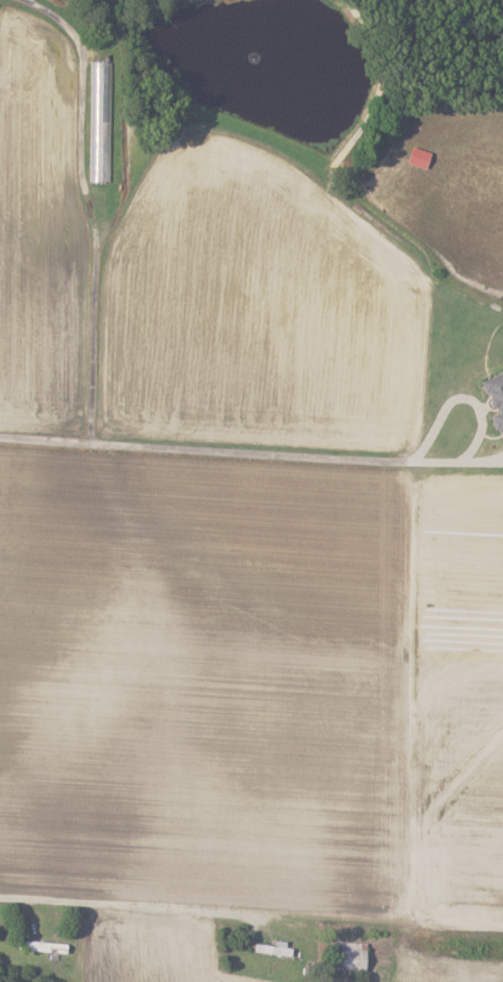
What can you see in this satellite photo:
building: (99, 122)
road: (92, 206)
building: (497, 397)
road: (46, 438)
road: (279, 453)
road: (131, 903)
building: (43, 946)
building: (273, 949)
building: (353, 957)

